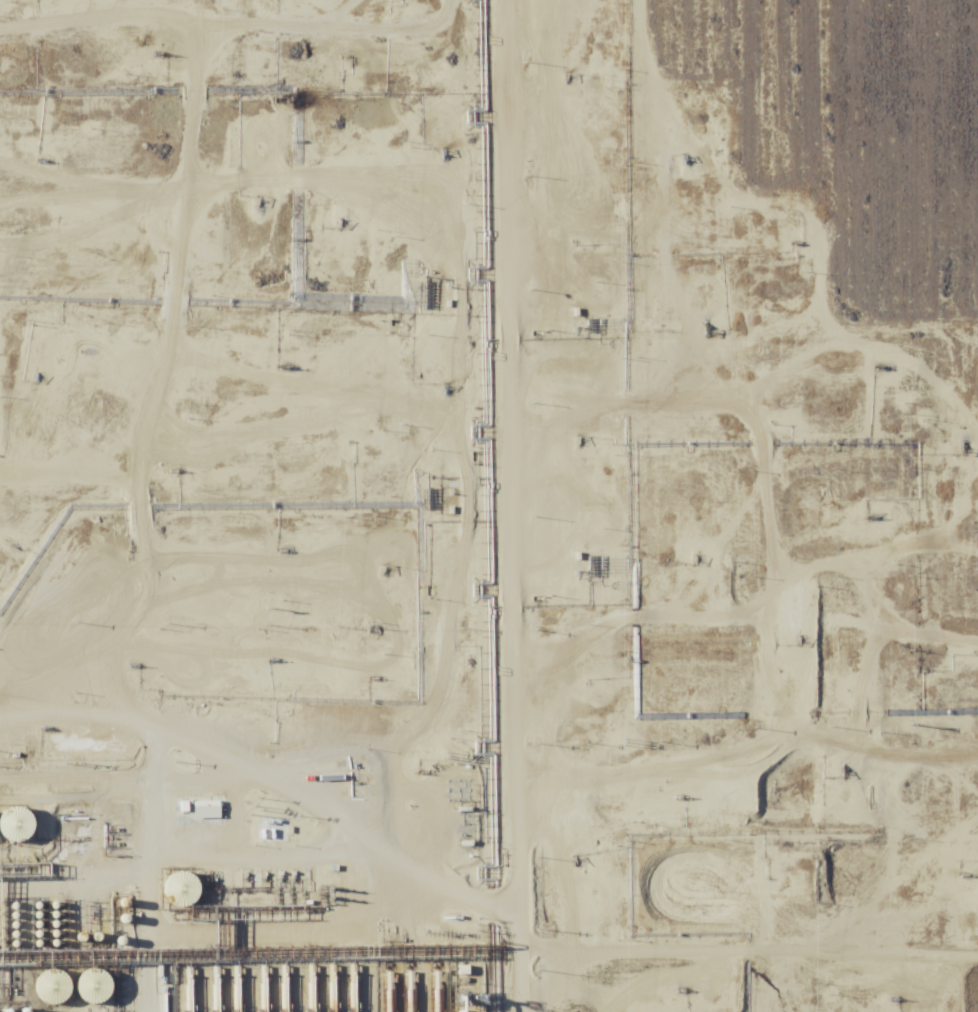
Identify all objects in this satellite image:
road: (306, 812)
building: (19, 823)
building: (182, 888)
building: (94, 986)
building: (54, 987)

